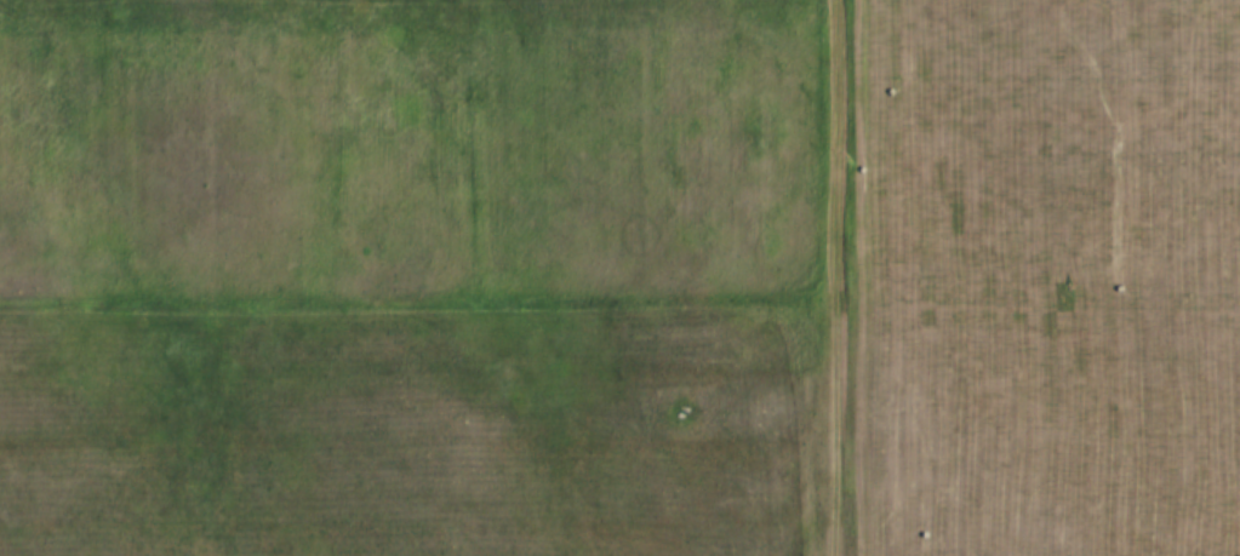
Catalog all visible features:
road: (836, 277)

